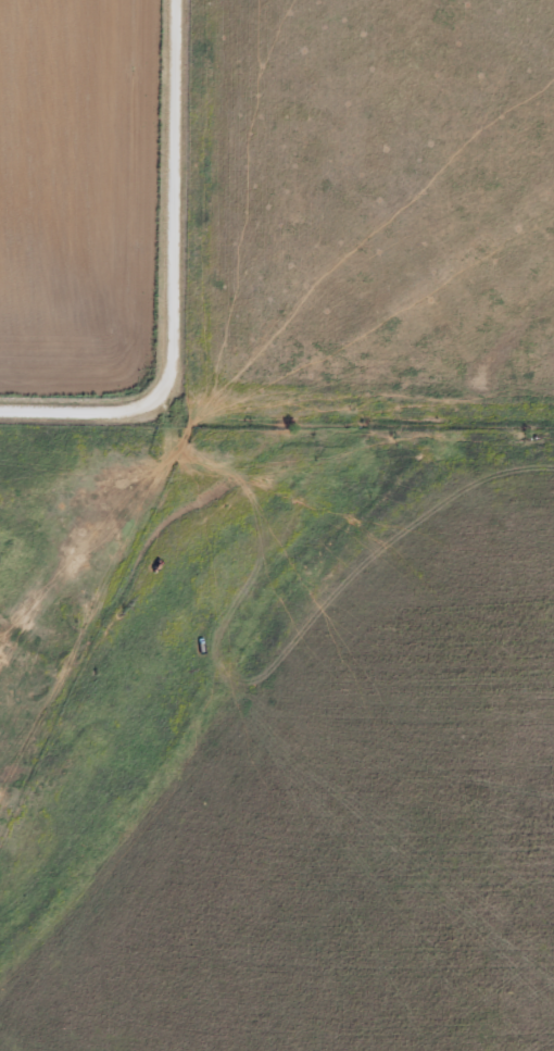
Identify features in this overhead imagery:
road: (178, 280)

